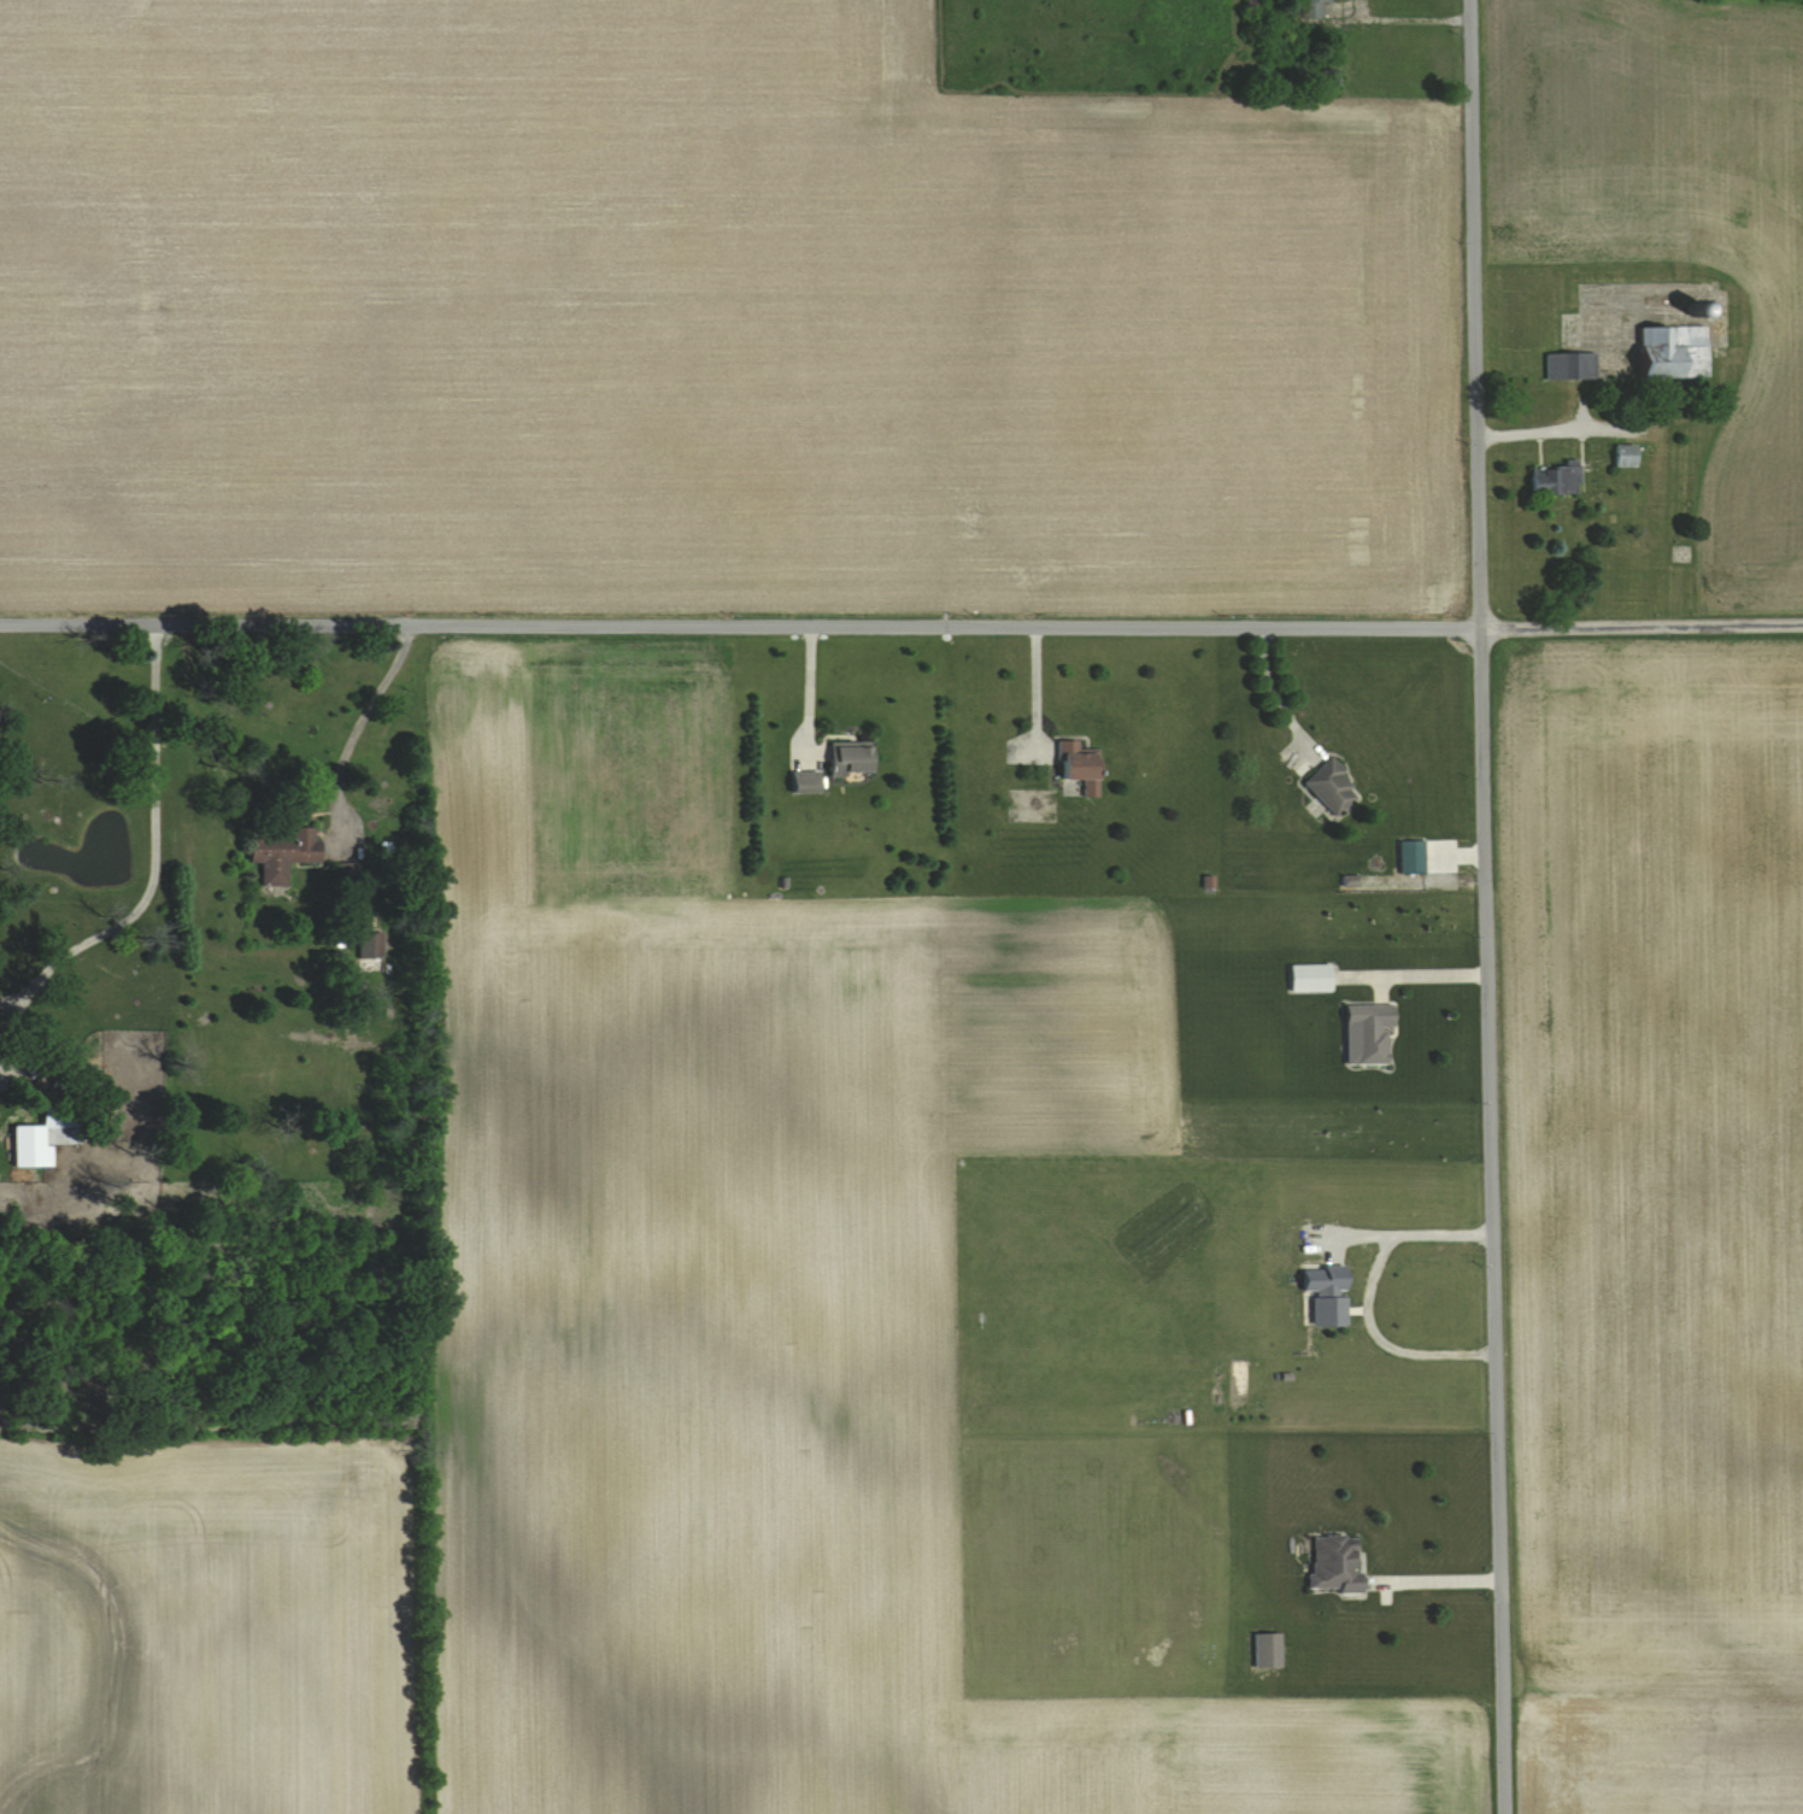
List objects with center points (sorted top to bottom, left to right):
building: (1253, 5)
building: (1312, 8)
road: (1403, 17)
building: (1674, 352)
building: (1572, 366)
road: (1535, 428)
building: (1626, 457)
building: (1555, 481)
road: (902, 628)
road: (807, 692)
road: (1034, 692)
road: (1274, 697)
road: (356, 734)
building: (850, 761)
building: (1077, 771)
building: (805, 782)
building: (1333, 788)
road: (153, 846)
building: (281, 852)
road: (1487, 906)
building: (371, 951)
road: (1427, 970)
building: (1311, 979)
building: (1370, 1033)
building: (61, 1125)
road: (1367, 1293)
building: (1326, 1296)
building: (1333, 1563)
road: (1438, 1577)
building: (1267, 1649)

